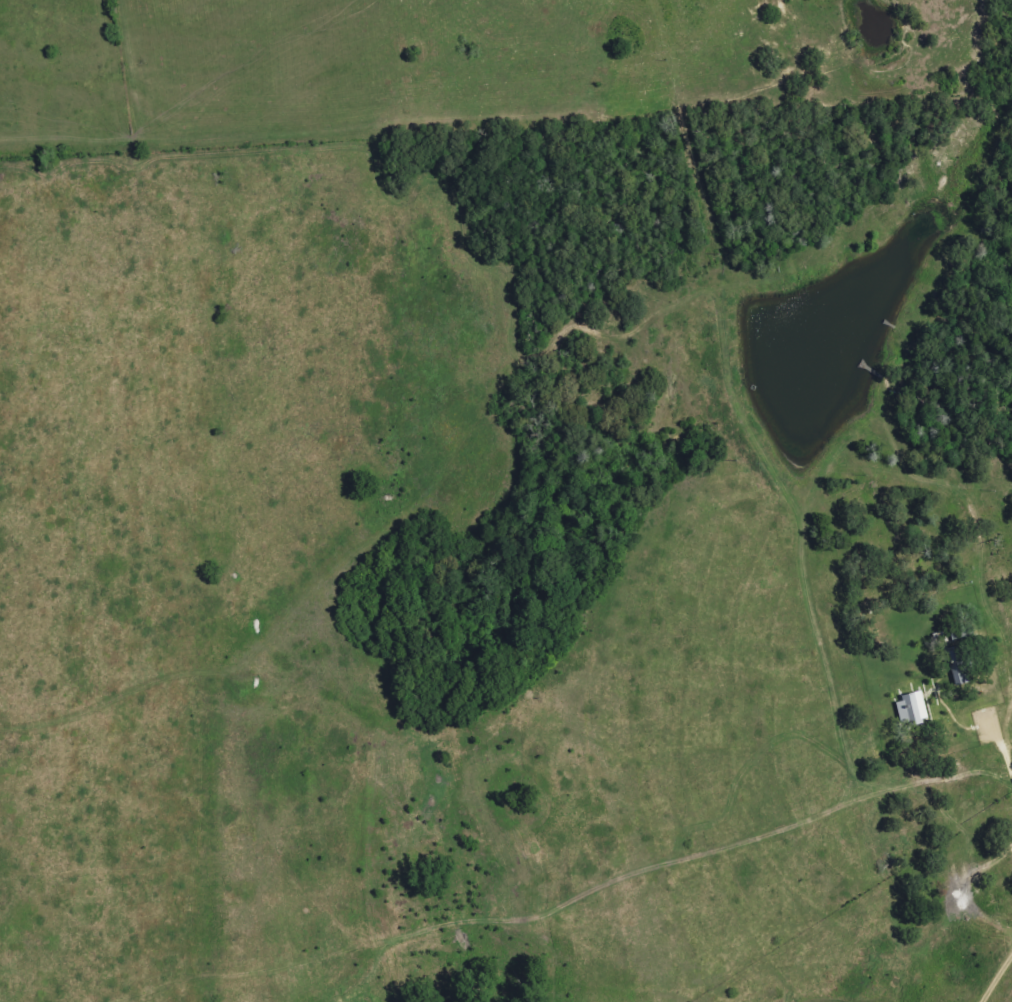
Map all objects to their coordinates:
building: (963, 674)
building: (913, 711)

